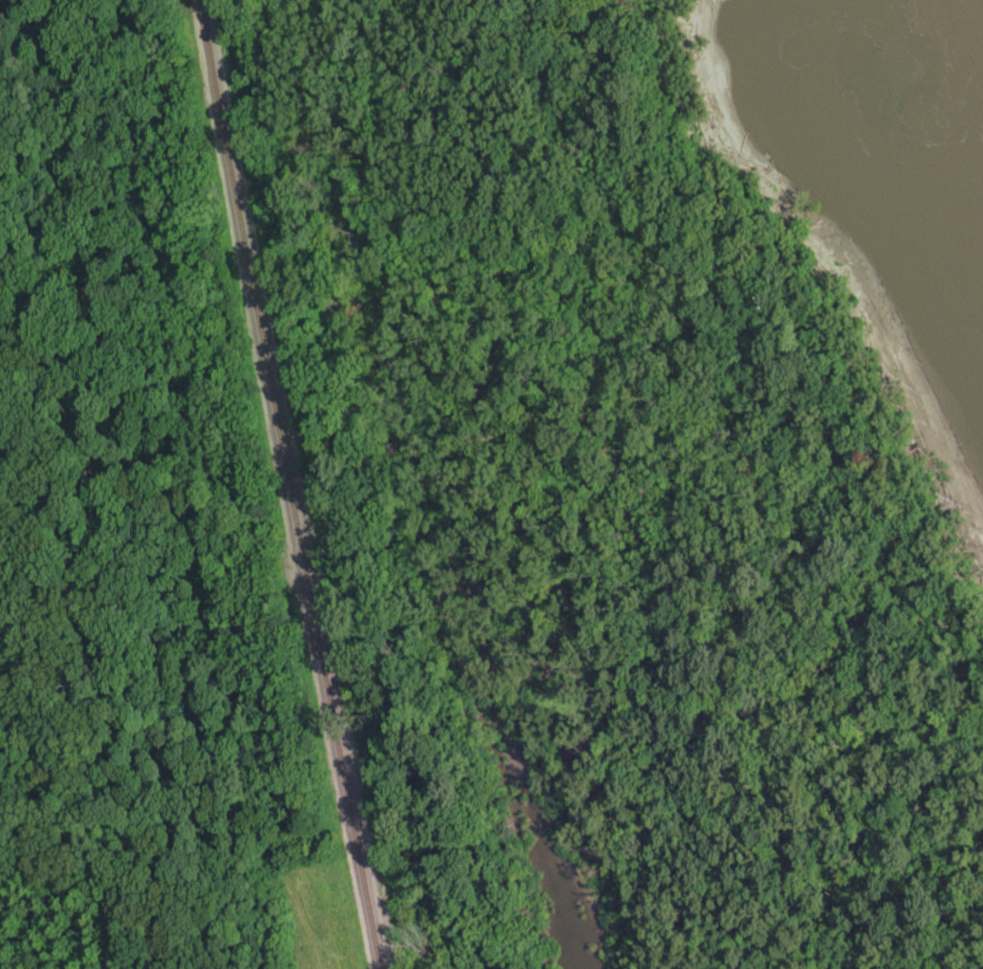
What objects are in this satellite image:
railway: (295, 484)

